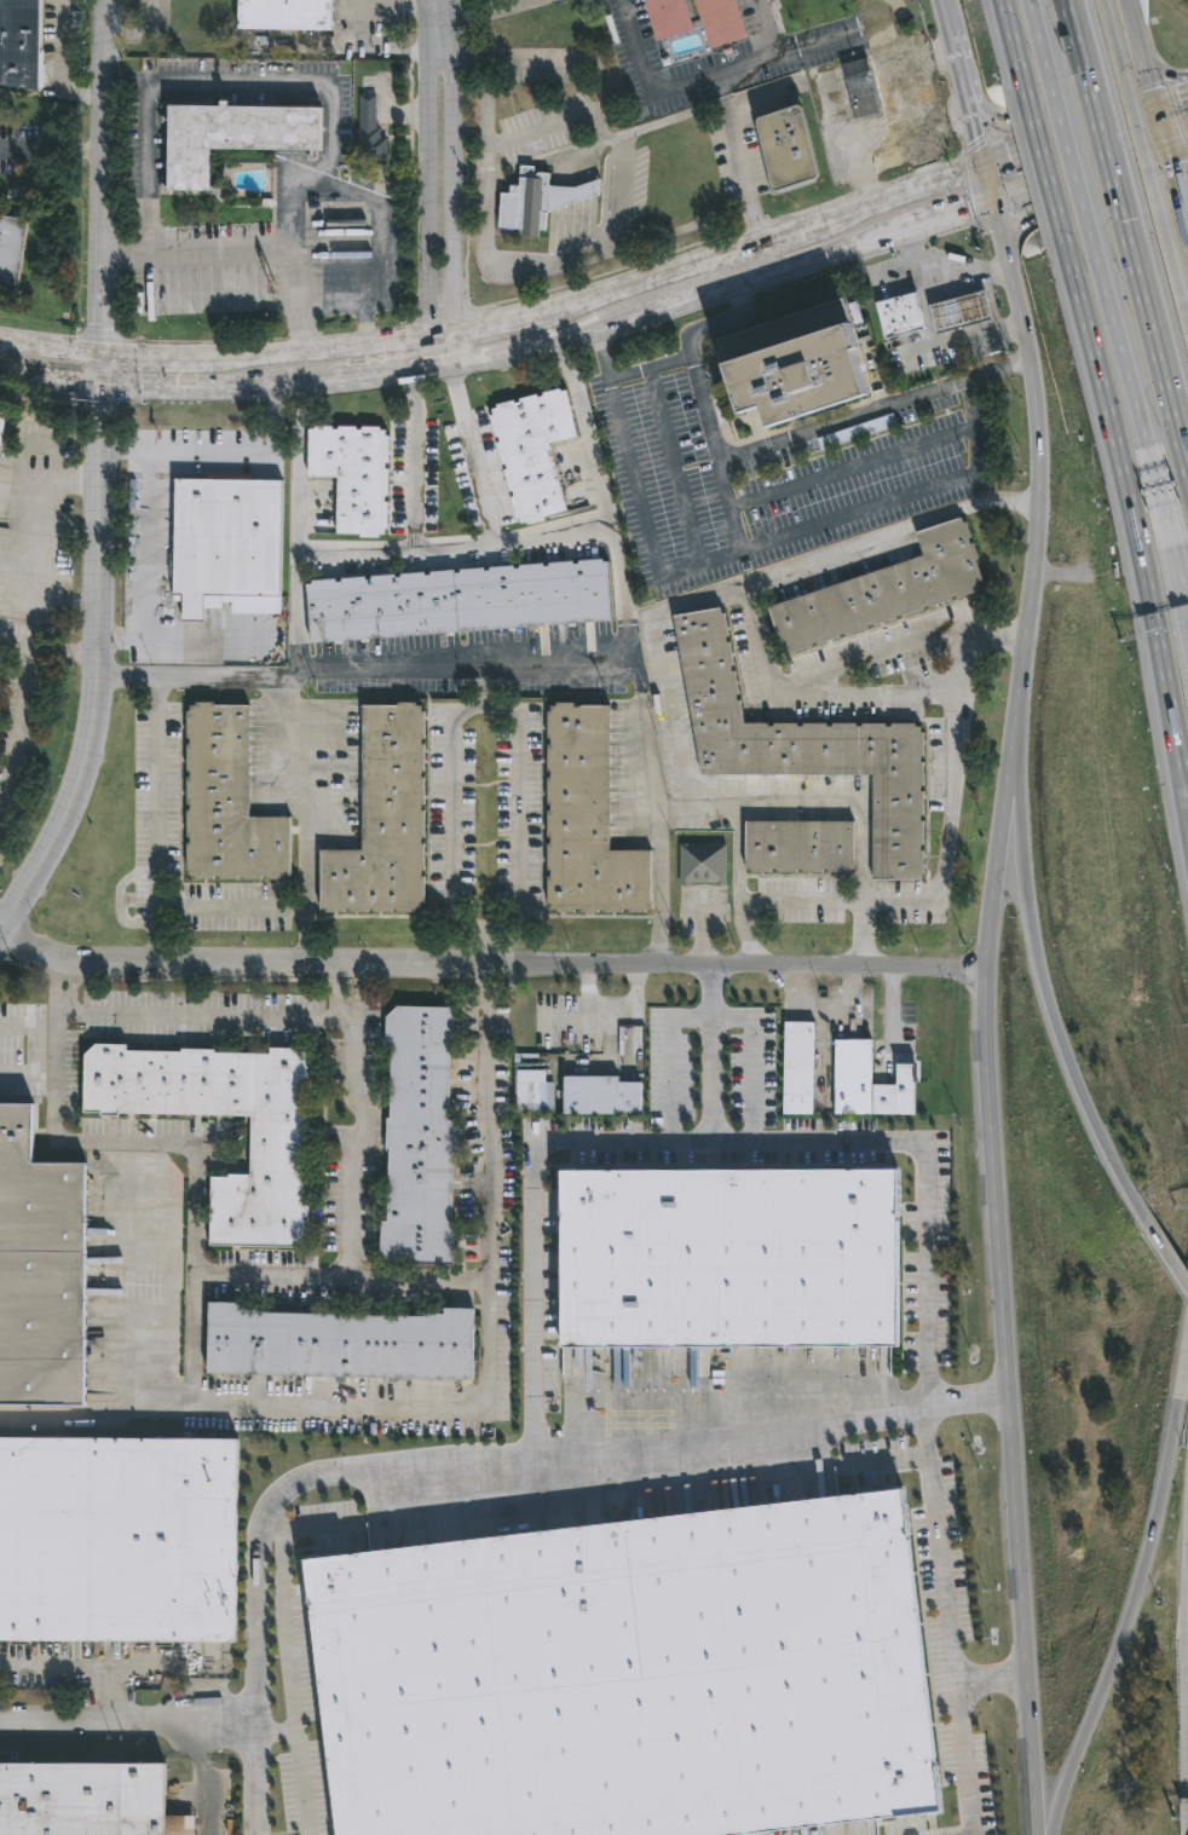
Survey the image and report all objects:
building: (814, 10)
building: (283, 15)
road: (402, 15)
road: (941, 15)
building: (667, 17)
building: (720, 21)
road: (440, 25)
road: (766, 28)
road: (1072, 34)
road: (1037, 39)
building: (18, 42)
road: (1011, 42)
road: (56, 46)
road: (1136, 52)
road: (370, 53)
road: (459, 53)
road: (955, 63)
road: (731, 71)
road: (1144, 71)
road: (1157, 71)
road: (202, 80)
road: (425, 82)
road: (452, 82)
building: (859, 90)
road: (81, 94)
road: (907, 98)
traffic signals: (1180, 100)
building: (906, 102)
road: (481, 103)
road: (1167, 103)
road: (1078, 105)
road: (981, 111)
road: (388, 117)
road: (665, 122)
road: (543, 127)
building: (369, 132)
road: (973, 132)
road: (1083, 132)
building: (230, 138)
traffic signals: (975, 140)
road: (1172, 140)
road: (888, 142)
building: (786, 149)
traffic signals: (1134, 155)
traffic signals: (1008, 157)
road: (1146, 158)
road: (999, 160)
road: (1106, 160)
traffic signals: (1171, 167)
road: (1072, 168)
road: (1091, 169)
road: (737, 175)
road: (1046, 177)
road: (1136, 185)
road: (1176, 189)
road: (898, 191)
building: (569, 196)
building: (525, 204)
road: (976, 208)
road: (616, 212)
traffic signals: (963, 213)
road: (454, 223)
road: (425, 227)
road: (785, 229)
road: (1014, 231)
road: (379, 244)
road: (269, 249)
building: (10, 253)
road: (831, 255)
road: (125, 256)
road: (744, 262)
road: (639, 272)
road: (935, 284)
road: (292, 299)
road: (327, 310)
building: (958, 312)
gas station: (958, 312)
road: (486, 317)
building: (899, 317)
road: (716, 324)
road: (950, 340)
road: (1152, 341)
road: (452, 348)
traffic signals: (99, 350)
road: (225, 352)
road: (596, 352)
road: (1120, 353)
building: (791, 362)
road: (670, 364)
road: (628, 375)
road: (373, 382)
traffic signals: (103, 392)
road: (824, 425)
road: (185, 452)
building: (532, 452)
road: (1181, 457)
road: (674, 468)
road: (854, 471)
road: (100, 475)
parking lot: (757, 475)
building: (351, 477)
road: (484, 497)
road: (1158, 497)
toll booth: (1159, 498)
road: (28, 504)
road: (731, 506)
road: (607, 519)
road: (1135, 529)
road: (553, 536)
building: (226, 548)
road: (359, 548)
road: (761, 548)
road: (1180, 579)
road: (755, 585)
building: (881, 594)
road: (57, 602)
building: (457, 604)
road: (685, 604)
road: (150, 605)
road: (295, 613)
road: (123, 641)
road: (645, 651)
road: (872, 654)
road: (48, 657)
road: (365, 669)
road: (15, 735)
building: (805, 749)
road: (1014, 779)
road: (947, 800)
road: (748, 802)
building: (225, 804)
road: (305, 818)
road: (155, 819)
building: (586, 820)
building: (381, 823)
road: (661, 830)
building: (798, 849)
building: (702, 866)
road: (738, 884)
road: (117, 902)
road: (800, 904)
road: (232, 911)
road: (459, 929)
road: (704, 934)
road: (485, 947)
road: (489, 960)
road: (586, 987)
road: (982, 996)
road: (892, 1003)
road: (824, 1009)
road: (617, 1015)
road: (203, 1016)
road: (711, 1017)
parking lot: (582, 1023)
road: (1051, 1023)
road: (19, 1027)
parking lot: (750, 1062)
building: (797, 1069)
building: (852, 1079)
building: (535, 1092)
building: (895, 1096)
building: (599, 1097)
building: (419, 1139)
road: (861, 1141)
building: (275, 1148)
road: (348, 1185)
road: (532, 1218)
road: (131, 1235)
road: (1166, 1254)
building: (727, 1257)
road: (269, 1273)
building: (39, 1274)
road: (171, 1340)
building: (339, 1346)
road: (967, 1401)
road: (282, 1407)
road: (102, 1420)
road: (884, 1464)
road: (429, 1476)
road: (275, 1528)
building: (117, 1542)
road: (1143, 1562)
road: (946, 1626)
road: (287, 1644)
road: (75, 1670)
building: (628, 1677)
road: (990, 1679)
road: (100, 1720)
road: (231, 1723)
road: (278, 1731)
building: (85, 1800)
road: (1056, 1810)

